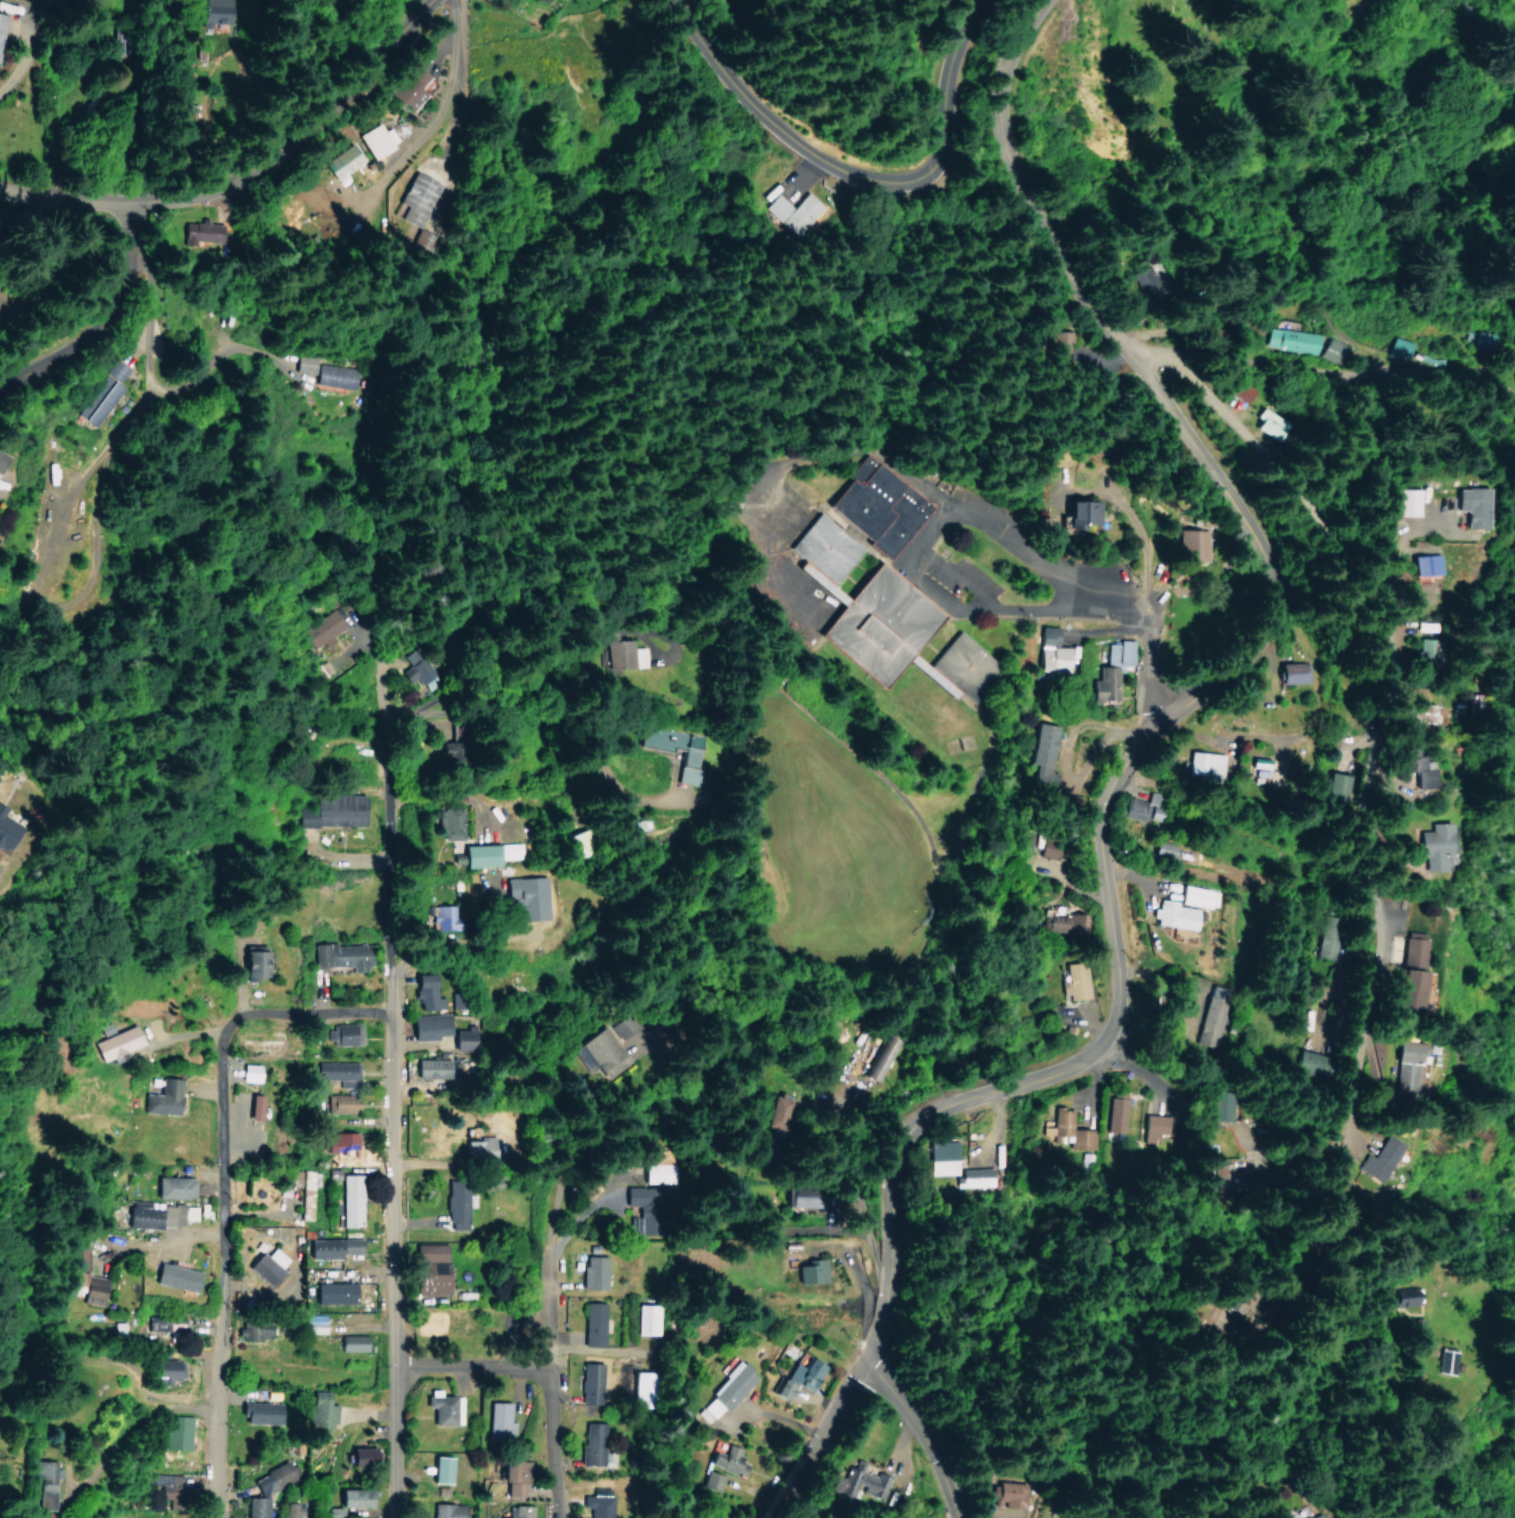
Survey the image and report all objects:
building: (538, 0)
building: (1, 25)
building: (409, 86)
road: (439, 111)
building: (376, 139)
road: (228, 148)
building: (341, 160)
road: (821, 168)
building: (312, 194)
building: (417, 197)
building: (786, 210)
building: (195, 233)
building: (425, 239)
building: (1142, 280)
road: (97, 321)
building: (1290, 339)
building: (1482, 339)
building: (1048, 346)
building: (1396, 348)
building: (1331, 350)
building: (316, 369)
building: (115, 370)
road: (1142, 377)
building: (1231, 391)
building: (97, 401)
building: (1256, 424)
building: (1396, 503)
building: (877, 506)
building: (1461, 507)
building: (1078, 513)
road: (991, 521)
building: (1192, 544)
building: (1416, 566)
building: (882, 616)
road: (1146, 626)
building: (321, 629)
building: (1051, 650)
building: (622, 652)
building: (1110, 670)
building: (1295, 672)
building: (1414, 713)
building: (1042, 758)
building: (1204, 766)
building: (687, 767)
building: (1409, 767)
road: (1378, 771)
building: (1331, 784)
building: (1143, 807)
building: (333, 810)
building: (449, 822)
building: (6, 827)
building: (578, 842)
building: (1424, 845)
building: (1050, 847)
building: (1164, 847)
building: (488, 853)
building: (527, 896)
building: (1186, 907)
building: (439, 916)
building: (1064, 924)
building: (339, 955)
building: (251, 961)
building: (1405, 971)
building: (1074, 979)
building: (426, 991)
road: (305, 1019)
building: (1210, 1025)
building: (428, 1026)
building: (343, 1034)
building: (463, 1038)
building: (117, 1042)
building: (607, 1047)
building: (1301, 1061)
building: (430, 1068)
building: (247, 1071)
building: (336, 1071)
building: (1395, 1071)
building: (161, 1097)
road: (972, 1098)
road: (390, 1100)
building: (340, 1102)
building: (252, 1106)
building: (778, 1111)
building: (1114, 1111)
building: (1221, 1112)
building: (1068, 1130)
building: (341, 1140)
building: (479, 1146)
building: (942, 1157)
building: (1374, 1159)
building: (658, 1172)
building: (974, 1177)
building: (1223, 1177)
building: (172, 1186)
building: (303, 1190)
building: (350, 1199)
building: (806, 1203)
building: (456, 1206)
building: (153, 1214)
building: (331, 1247)
building: (266, 1265)
building: (428, 1268)
building: (810, 1271)
road: (219, 1272)
building: (593, 1272)
building: (174, 1276)
building: (86, 1277)
building: (333, 1292)
building: (1404, 1295)
building: (647, 1319)
building: (167, 1323)
building: (591, 1323)
building: (315, 1326)
building: (253, 1330)
building: (350, 1342)
road: (544, 1343)
building: (1441, 1360)
road: (468, 1366)
building: (804, 1373)
building: (590, 1379)
building: (643, 1384)
building: (780, 1388)
building: (724, 1392)
building: (443, 1407)
building: (259, 1412)
building: (318, 1412)
building: (499, 1421)
building: (178, 1432)
road: (918, 1433)
building: (592, 1442)
building: (359, 1456)
building: (729, 1459)
building: (440, 1468)
building: (512, 1476)
building: (712, 1479)
building: (46, 1481)
building: (859, 1481)
building: (168, 1484)
building: (269, 1487)
building: (347, 1500)
building: (598, 1505)
building: (294, 1510)
building: (448, 1510)
building: (518, 1511)
building: (1307, 1515)

